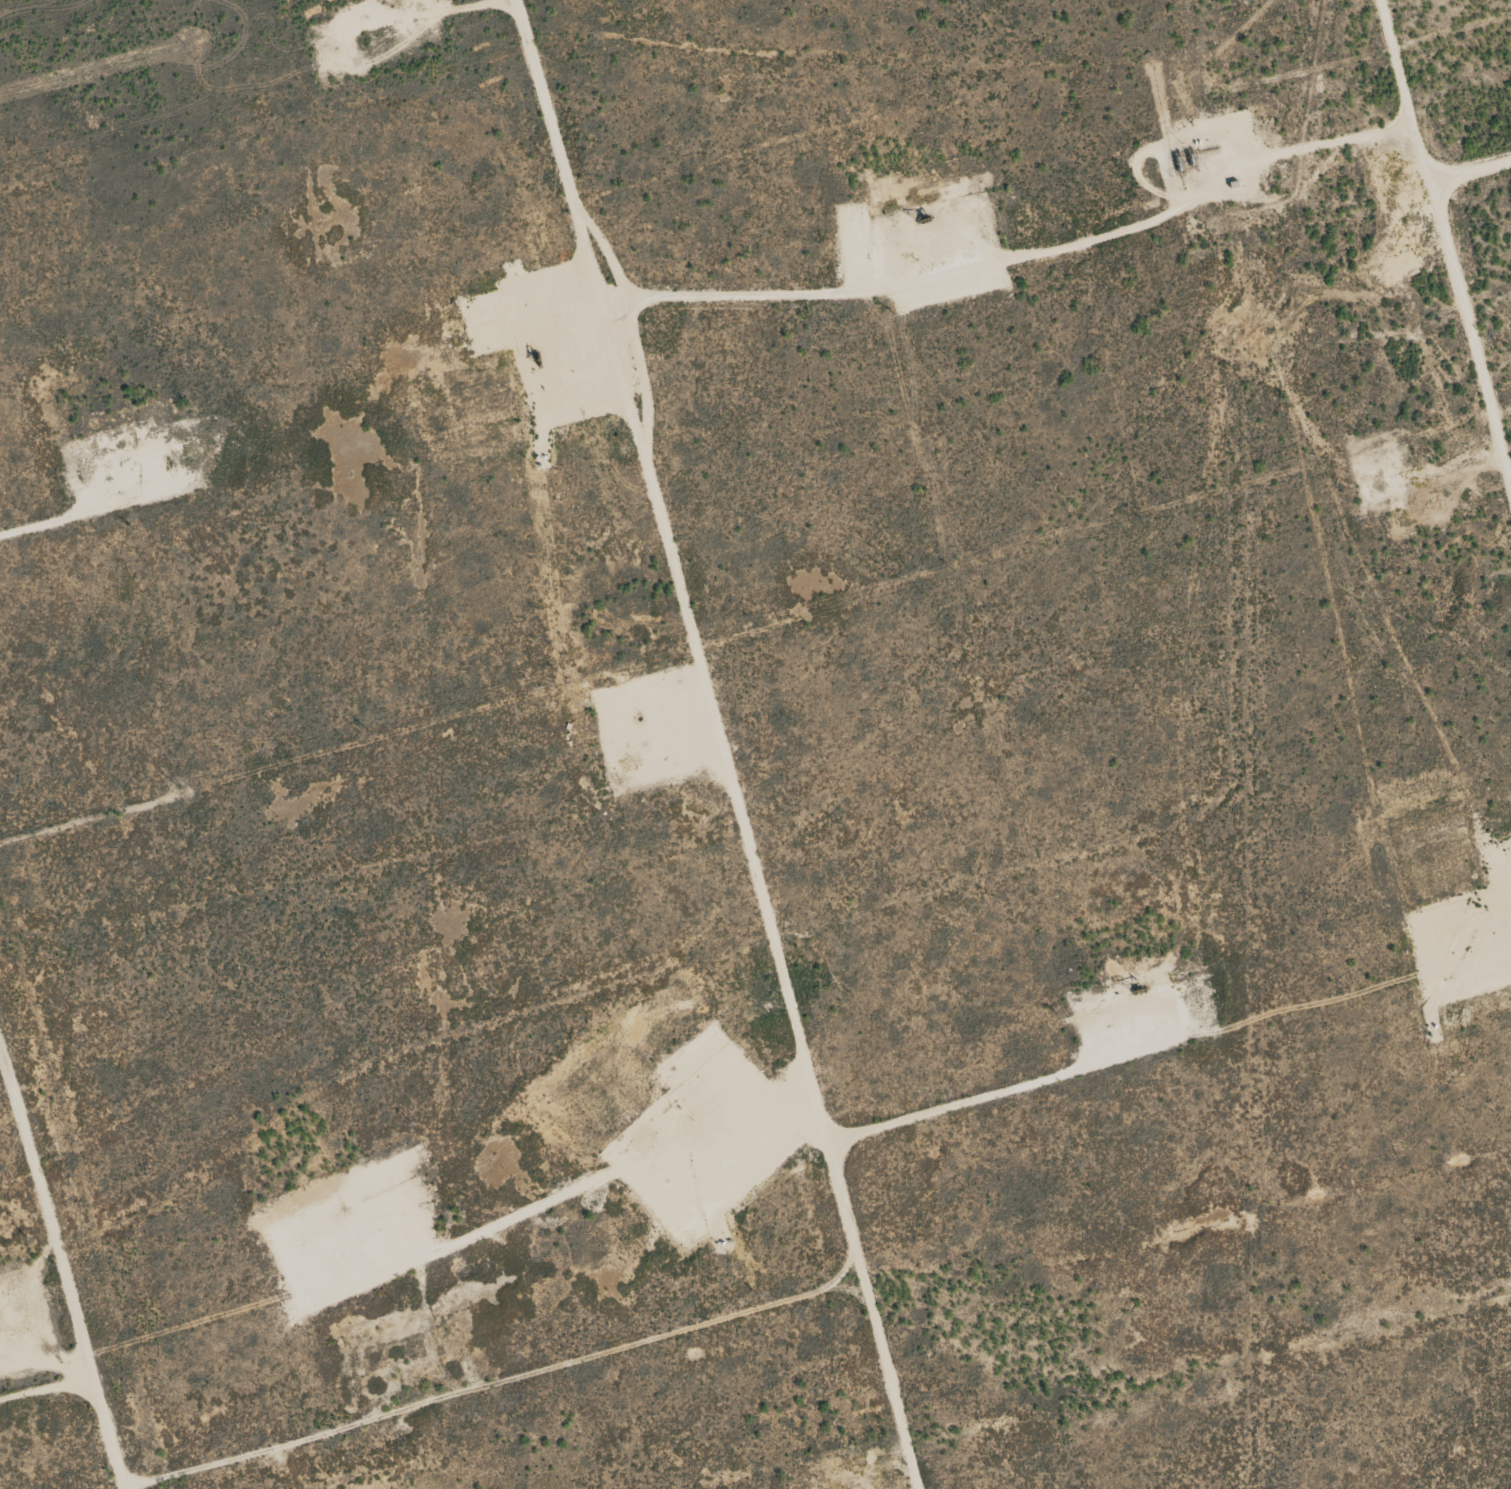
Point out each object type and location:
road: (1448, 235)
road: (719, 743)
road: (61, 1280)

